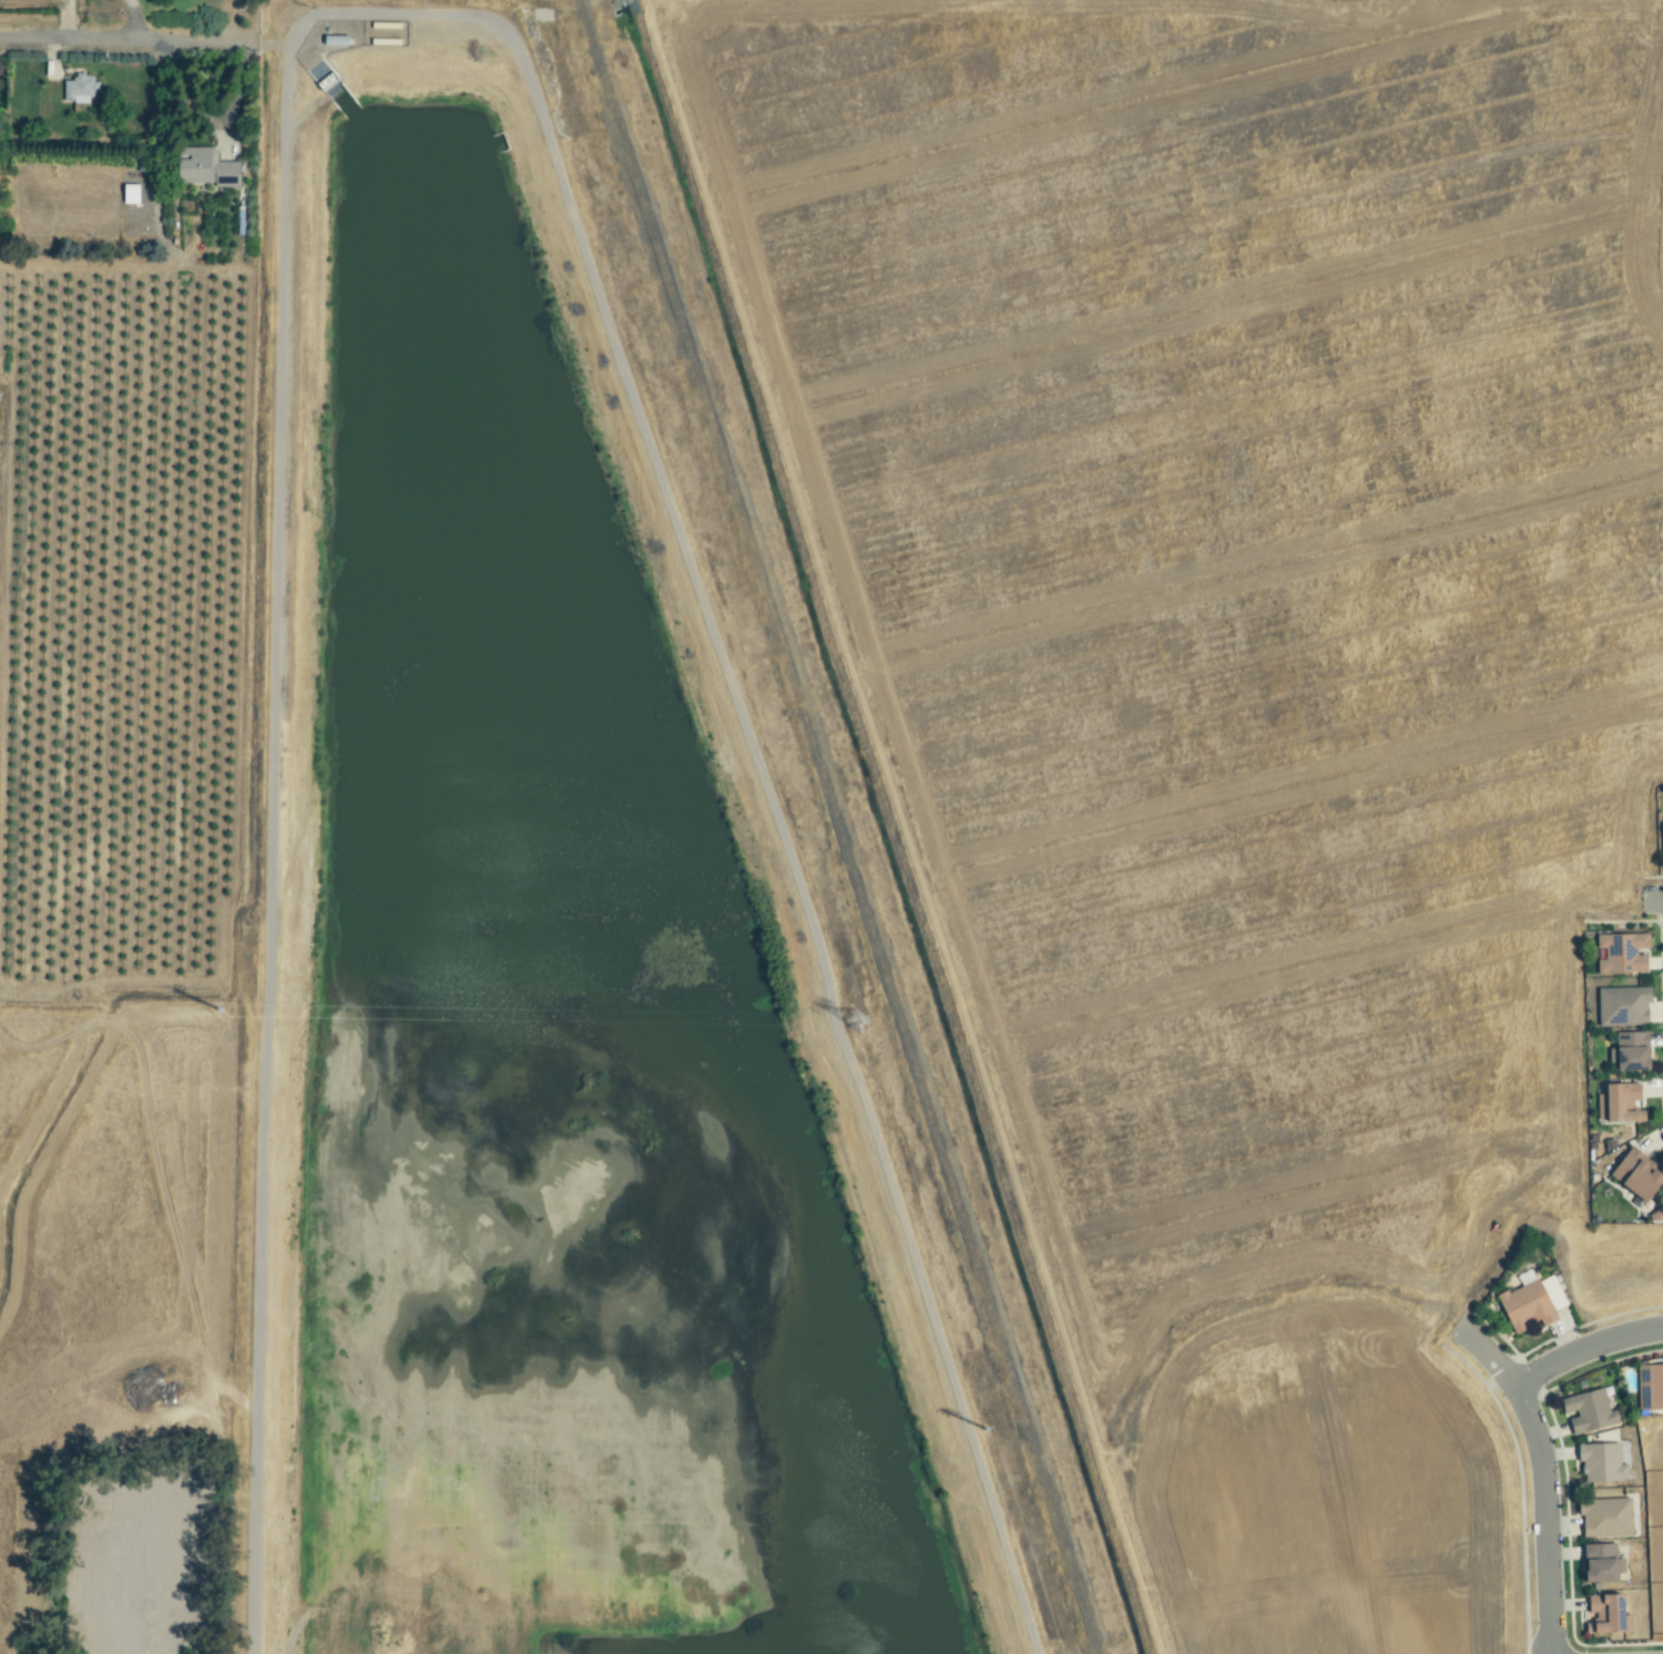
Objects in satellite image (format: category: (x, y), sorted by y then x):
road: (68, 3)
road: (69, 23)
road: (119, 39)
dam: (315, 90)
building: (78, 93)
building: (202, 169)
building: (1662, 825)
railway: (836, 827)
road: (1652, 900)
building: (1620, 953)
building: (1621, 1005)
power tower: (231, 1011)
power tower: (856, 1024)
building: (1629, 1052)
building: (1619, 1103)
building: (1634, 1175)
building: (1530, 1303)
road: (1585, 1350)
building: (1650, 1387)
building: (1587, 1411)
power tower: (986, 1440)
building: (1600, 1462)
road: (1543, 1476)
building: (1604, 1518)
building: (1599, 1563)
building: (1605, 1615)

